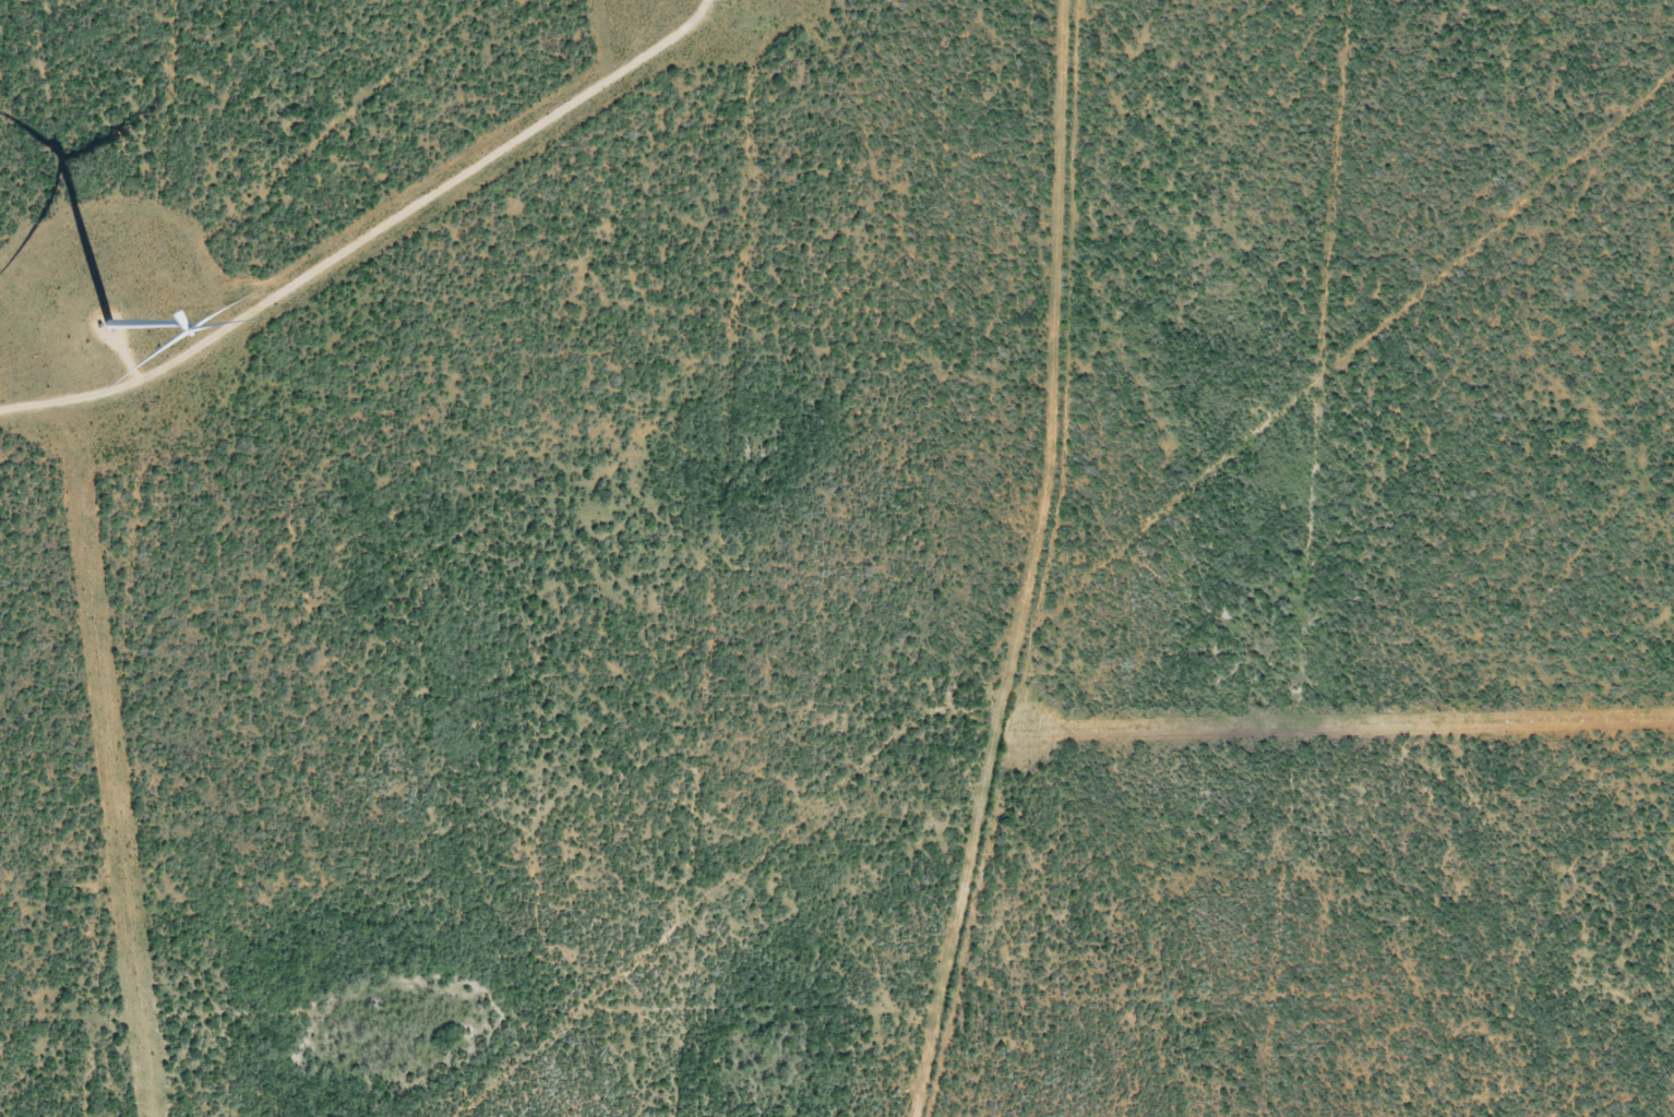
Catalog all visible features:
wind turbine: (85, 351)

